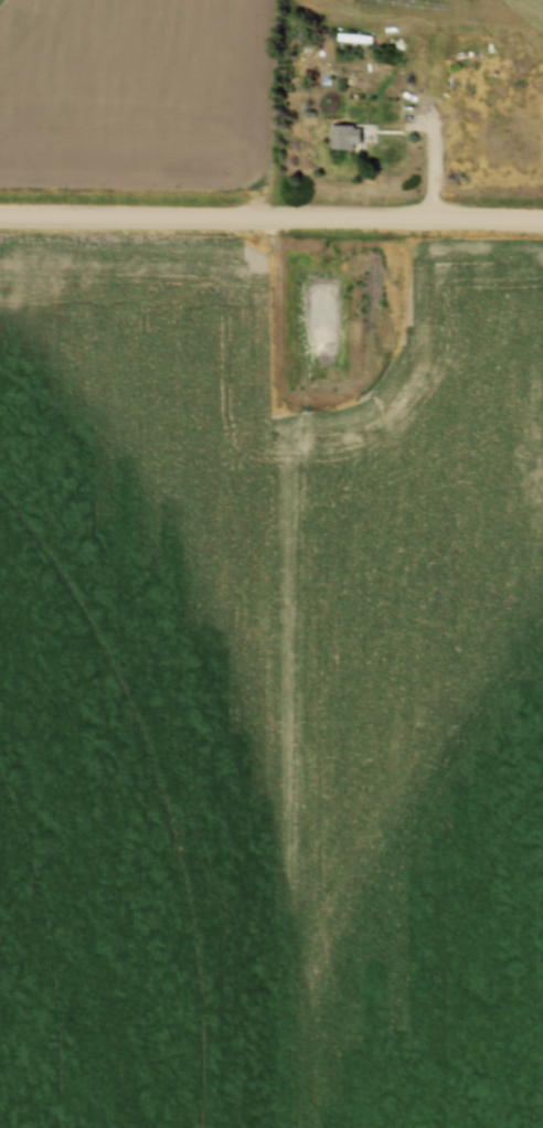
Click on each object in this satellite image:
crop: (455, 11)
building: (465, 76)
crop: (137, 88)
building: (349, 137)
road: (435, 166)
road: (271, 215)
crop: (269, 712)

